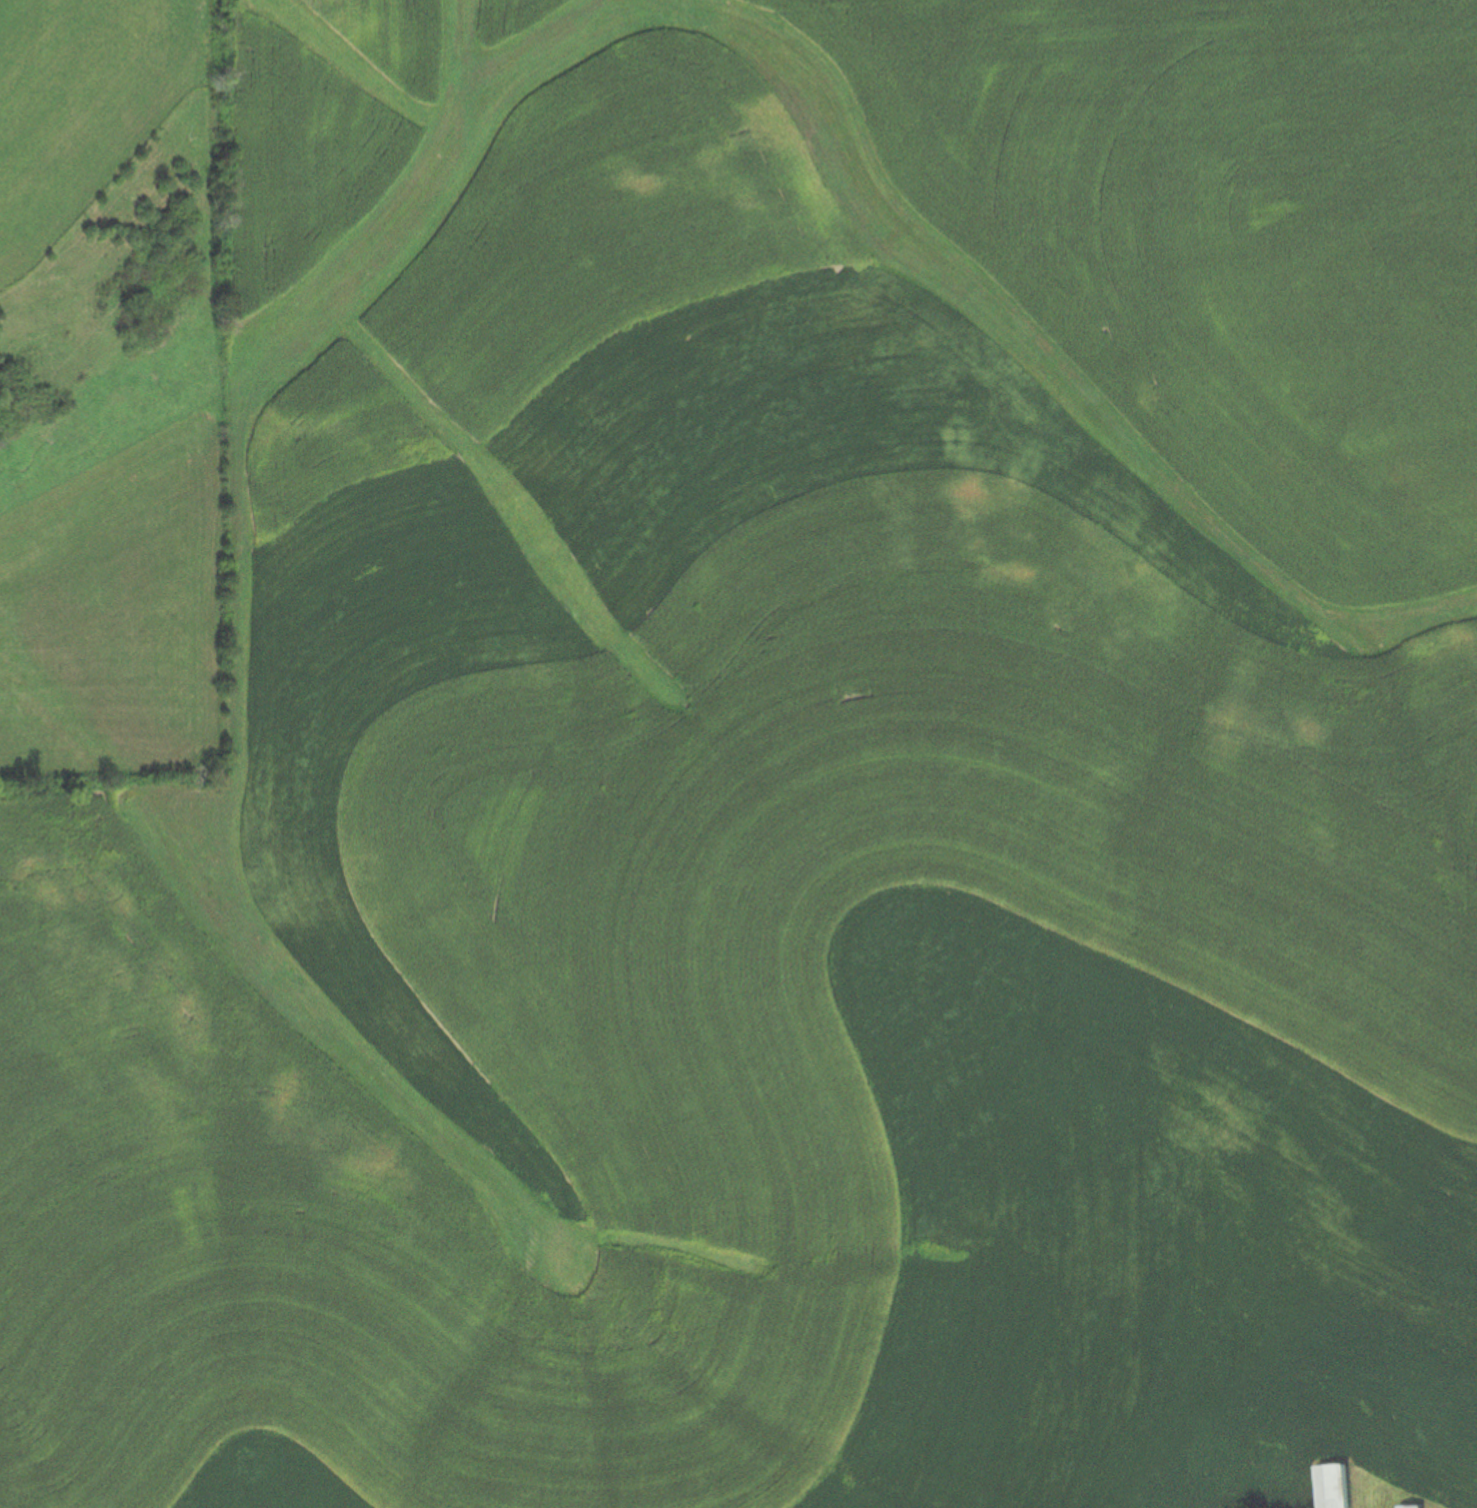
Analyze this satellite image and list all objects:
building: (1335, 1485)

